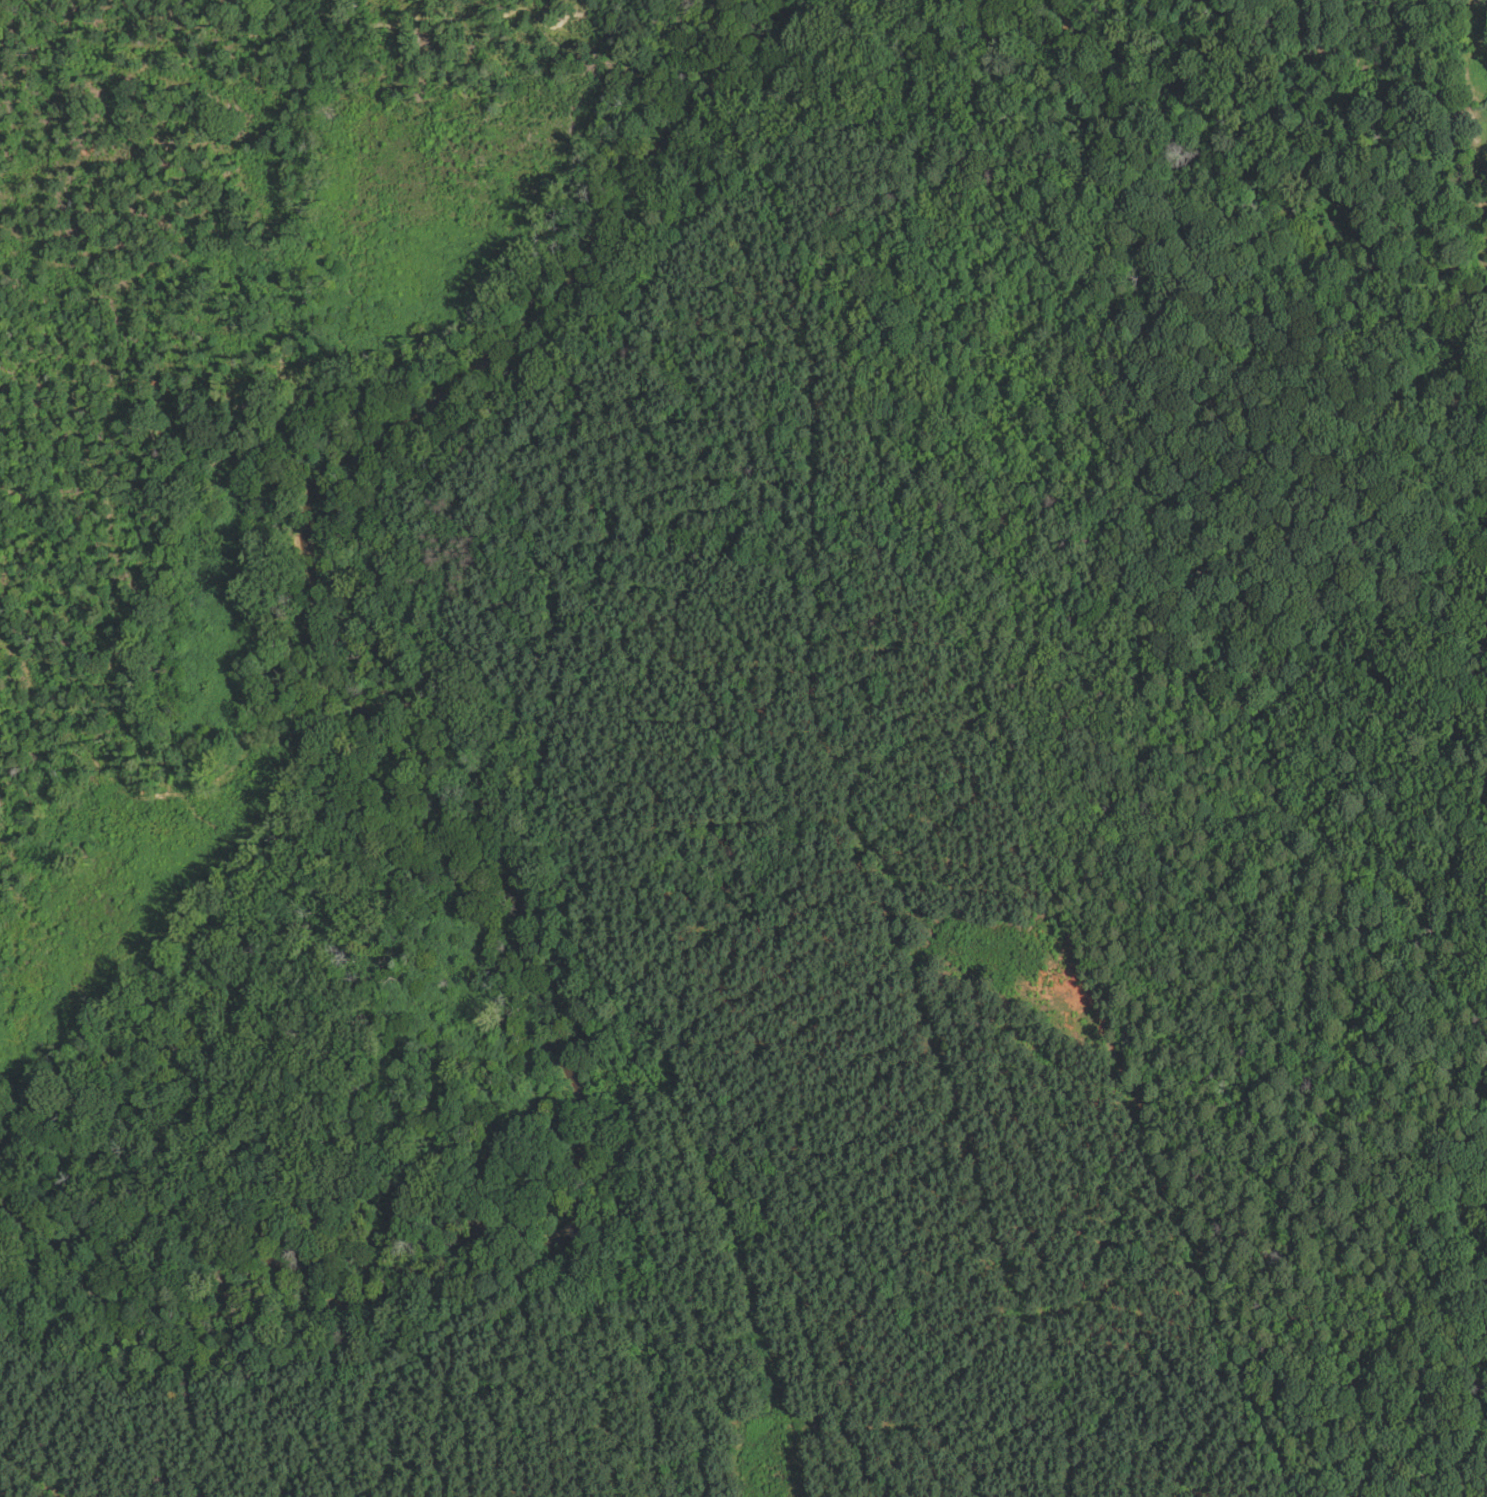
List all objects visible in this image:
road: (1436, 88)
building: (1434, 176)

